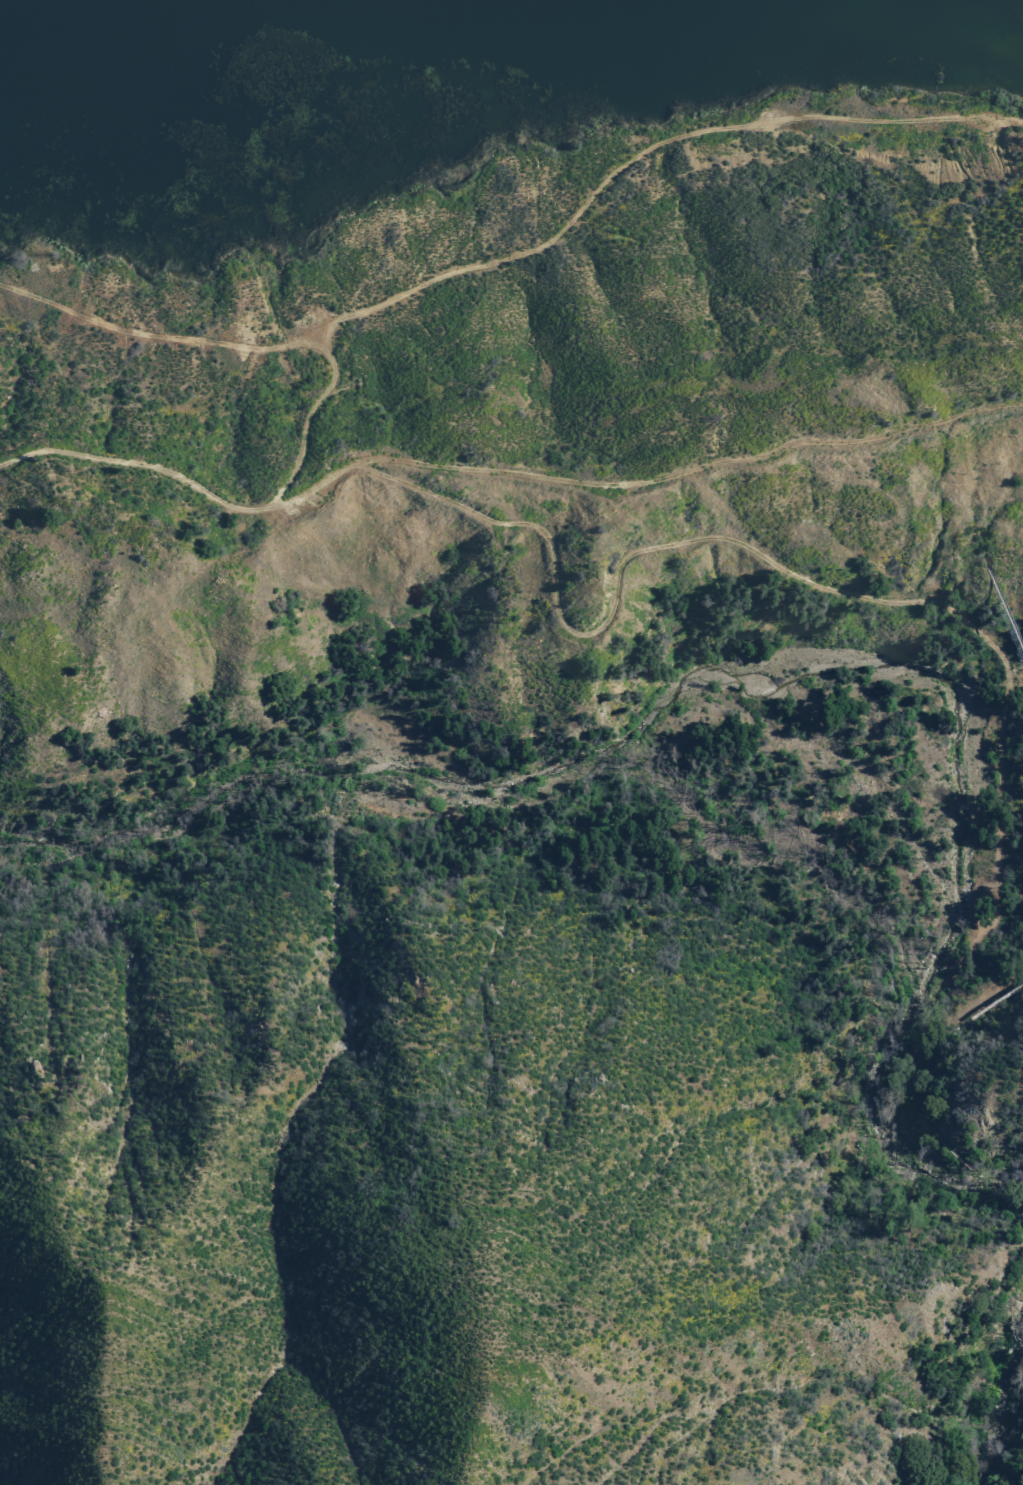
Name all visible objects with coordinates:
river: (984, 15)
road: (638, 155)
road: (148, 333)
road: (299, 417)
road: (501, 470)
road: (742, 546)
road: (885, 1077)
road: (992, 1398)

